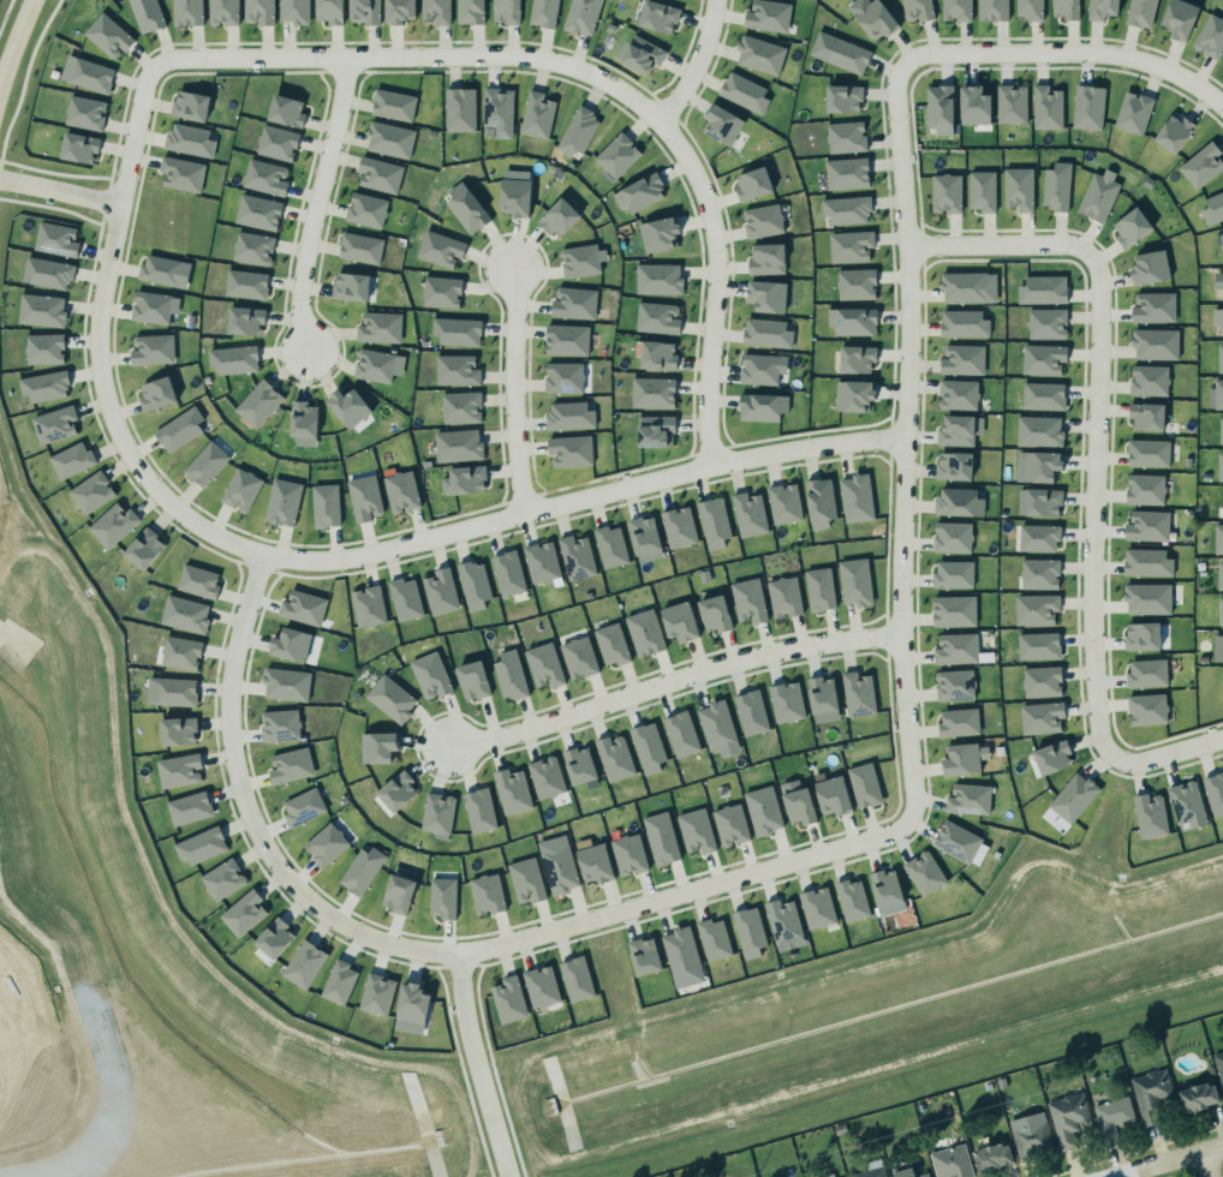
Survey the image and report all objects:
building: (955, 8)
building: (991, 8)
building: (1030, 8)
building: (1067, 8)
building: (1103, 8)
building: (505, 10)
building: (918, 10)
building: (294, 11)
building: (330, 11)
building: (364, 11)
building: (399, 11)
building: (436, 11)
building: (471, 11)
building: (1139, 11)
building: (187, 12)
building: (223, 12)
building: (258, 12)
building: (544, 13)
building: (147, 14)
building: (583, 16)
building: (657, 16)
building: (766, 16)
building: (872, 17)
building: (1180, 18)
building: (107, 35)
building: (1211, 36)
road: (14, 41)
building: (758, 53)
building: (840, 53)
road: (1068, 53)
building: (643, 54)
road: (416, 56)
road: (696, 65)
building: (91, 74)
building: (744, 92)
building: (842, 96)
building: (1010, 101)
building: (189, 102)
building: (972, 103)
building: (393, 104)
building: (1087, 104)
building: (1045, 106)
building: (938, 107)
building: (460, 109)
building: (1132, 109)
building: (286, 110)
building: (497, 112)
building: (85, 113)
building: (537, 115)
building: (722, 124)
building: (578, 131)
building: (1173, 131)
building: (388, 137)
building: (846, 137)
building: (189, 142)
building: (276, 143)
building: (79, 148)
building: (616, 156)
building: (1203, 165)
building: (378, 172)
building: (181, 173)
building: (846, 174)
building: (266, 177)
building: (753, 184)
building: (1056, 186)
building: (1018, 189)
building: (944, 190)
building: (982, 191)
road: (60, 192)
building: (639, 193)
building: (1099, 196)
building: (515, 197)
road: (316, 204)
building: (1213, 208)
building: (466, 209)
building: (847, 209)
building: (257, 210)
building: (366, 210)
building: (559, 217)
building: (760, 219)
building: (1132, 227)
building: (657, 232)
building: (56, 239)
building: (848, 244)
road: (1000, 245)
building: (1221, 245)
building: (359, 246)
building: (253, 247)
building: (440, 249)
building: (578, 258)
building: (766, 258)
building: (1150, 267)
building: (165, 271)
building: (48, 273)
building: (658, 279)
building: (246, 283)
building: (350, 283)
building: (857, 283)
road: (715, 286)
building: (968, 287)
building: (1043, 289)
building: (442, 292)
building: (766, 295)
building: (573, 300)
building: (150, 306)
building: (1153, 307)
building: (41, 310)
building: (656, 316)
building: (244, 318)
building: (851, 318)
building: (1218, 318)
building: (962, 321)
building: (1046, 324)
building: (378, 327)
building: (458, 330)
building: (766, 333)
building: (567, 340)
building: (1155, 341)
road: (99, 342)
building: (42, 346)
building: (151, 349)
building: (656, 353)
building: (961, 357)
building: (1219, 357)
building: (232, 358)
building: (857, 358)
building: (1043, 358)
building: (377, 364)
building: (455, 368)
building: (762, 369)
building: (563, 377)
building: (1150, 380)
building: (44, 386)
building: (651, 389)
road: (513, 392)
building: (1216, 393)
building: (157, 394)
building: (854, 395)
building: (956, 395)
building: (1043, 395)
building: (258, 401)
building: (347, 405)
building: (760, 405)
building: (461, 407)
building: (569, 416)
building: (1147, 416)
building: (302, 417)
building: (54, 424)
building: (179, 429)
building: (654, 429)
building: (959, 430)
building: (1221, 430)
building: (1039, 431)
road: (905, 442)
building: (458, 446)
building: (569, 450)
building: (1146, 452)
building: (71, 460)
building: (204, 462)
building: (954, 465)
building: (1037, 466)
building: (1219, 466)
building: (464, 480)
building: (1145, 489)
building: (241, 490)
building: (400, 490)
building: (91, 492)
building: (855, 495)
building: (364, 496)
road: (583, 500)
building: (784, 500)
building: (819, 500)
building: (281, 501)
building: (959, 502)
building: (1039, 502)
road: (1092, 502)
building: (326, 506)
building: (750, 513)
building: (711, 521)
building: (675, 524)
building: (113, 525)
building: (1147, 526)
building: (951, 534)
building: (644, 537)
building: (1038, 537)
building: (1217, 537)
building: (609, 544)
building: (144, 548)
building: (574, 554)
building: (541, 560)
building: (1147, 562)
building: (506, 570)
building: (1219, 573)
building: (953, 574)
building: (1039, 574)
building: (198, 581)
building: (855, 581)
building: (472, 582)
building: (819, 588)
building: (439, 591)
building: (401, 596)
building: (784, 597)
building: (1147, 598)
building: (748, 601)
building: (366, 603)
building: (302, 607)
building: (1036, 609)
building: (954, 610)
building: (1219, 610)
building: (185, 614)
building: (714, 614)
building: (679, 621)
building: (645, 632)
building: (1143, 635)
building: (290, 640)
building: (611, 644)
building: (1217, 644)
building: (1038, 646)
building: (956, 649)
building: (180, 652)
building: (579, 657)
building: (543, 665)
building: (508, 673)
building: (1147, 673)
building: (430, 675)
road: (670, 676)
building: (472, 677)
building: (285, 681)
building: (1042, 682)
building: (955, 685)
building: (172, 692)
building: (858, 694)
building: (390, 698)
building: (823, 699)
building: (787, 701)
building: (1146, 705)
building: (751, 712)
building: (1042, 717)
building: (279, 722)
building: (959, 722)
building: (716, 725)
building: (178, 730)
building: (680, 733)
building: (380, 747)
building: (649, 747)
road: (1162, 752)
building: (1052, 757)
building: (614, 758)
building: (961, 759)
building: (288, 764)
building: (580, 766)
building: (179, 770)
building: (547, 777)
building: (865, 784)
building: (395, 788)
building: (512, 790)
building: (1215, 793)
building: (833, 795)
building: (1073, 795)
building: (966, 796)
building: (798, 802)
building: (1186, 802)
building: (302, 805)
building: (189, 808)
building: (479, 809)
building: (763, 811)
building: (436, 812)
road: (249, 813)
building: (1150, 815)
building: (730, 824)
building: (696, 831)
building: (661, 838)
building: (324, 843)
building: (960, 843)
building: (201, 846)
building: (627, 852)
building: (595, 864)
building: (360, 867)
building: (559, 868)
building: (924, 873)
building: (222, 879)
building: (526, 880)
building: (398, 890)
road: (684, 891)
building: (887, 891)
building: (487, 894)
building: (442, 897)
building: (852, 900)
building: (817, 908)
building: (241, 910)
building: (783, 921)
building: (748, 932)
building: (274, 937)
building: (714, 939)
building: (680, 950)
building: (645, 956)
building: (304, 964)
building: (577, 979)
building: (339, 982)
building: (542, 986)
building: (376, 994)
building: (509, 999)
building: (412, 1003)
road: (476, 1065)
building: (1219, 1065)
building: (1151, 1094)
building: (1198, 1097)
building: (1111, 1113)
building: (1068, 1118)
building: (1032, 1139)
building: (989, 1153)
road: (1162, 1159)
building: (950, 1160)
road: (1215, 1161)
building: (870, 1169)
building: (907, 1172)
building: (834, 1175)

